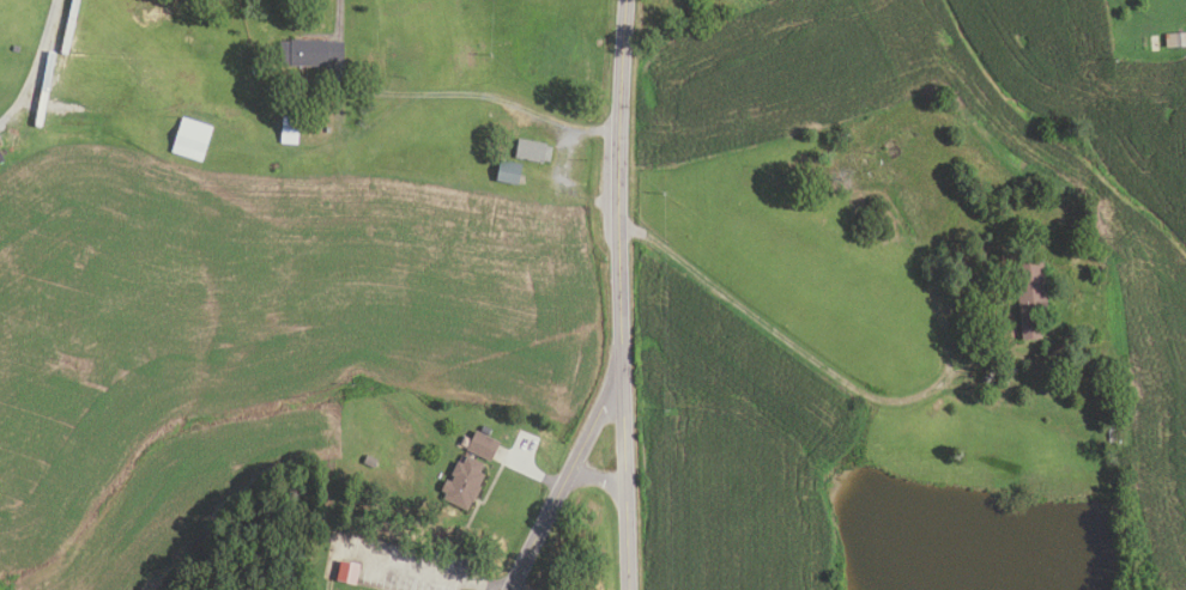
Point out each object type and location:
building: (1175, 39)
building: (308, 51)
road: (37, 66)
road: (440, 93)
building: (288, 128)
building: (189, 138)
building: (531, 150)
building: (854, 162)
building: (507, 171)
road: (616, 294)
building: (1029, 300)
road: (789, 341)
building: (480, 445)
road: (562, 476)
road: (593, 476)
building: (461, 481)
road: (422, 567)

